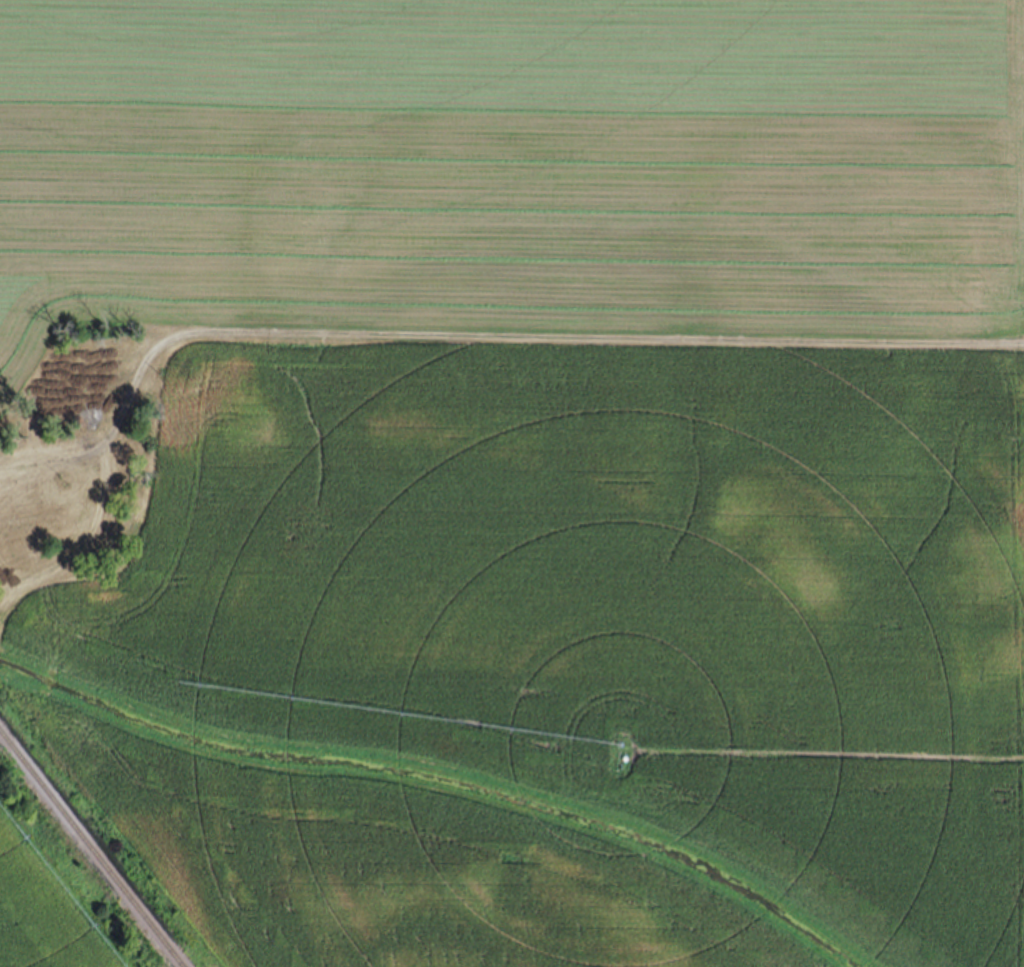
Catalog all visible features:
road: (478, 334)
road: (80, 545)
railway: (93, 846)

